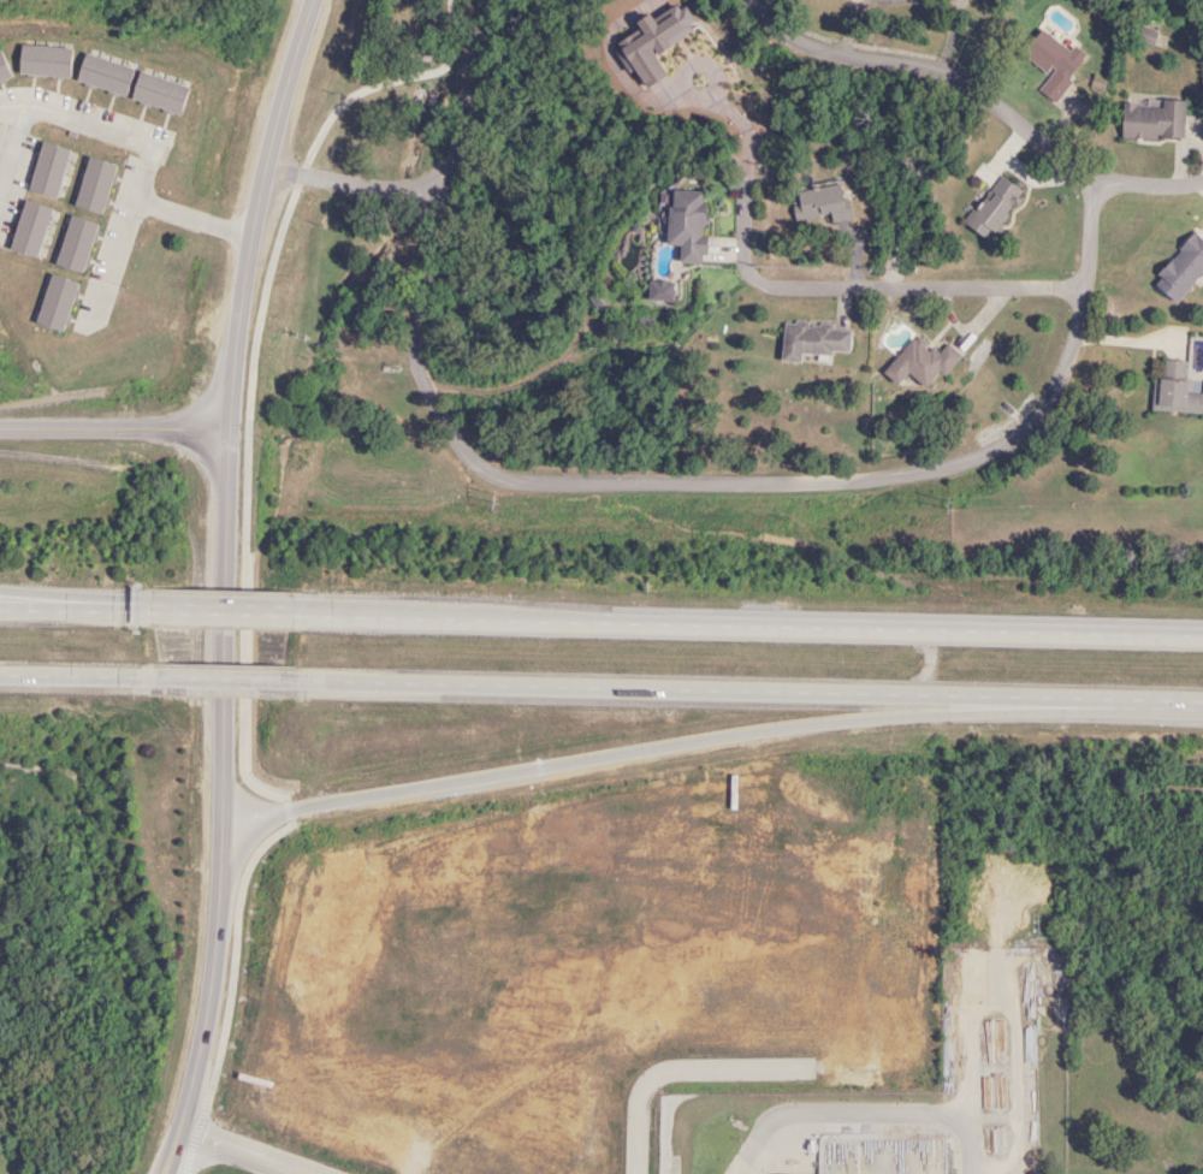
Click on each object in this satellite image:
building: (1053, 63)
road: (929, 73)
road: (454, 79)
building: (1154, 121)
road: (349, 178)
road: (1149, 185)
building: (822, 204)
building: (994, 208)
road: (254, 212)
road: (205, 221)
building: (687, 225)
building: (1181, 269)
road: (907, 289)
road: (159, 326)
building: (812, 340)
building: (37, 345)
building: (920, 363)
building: (1174, 391)
road: (115, 428)
road: (712, 488)
road: (47, 595)
road: (47, 601)
road: (128, 604)
road: (223, 607)
road: (742, 627)
road: (81, 677)
road: (221, 681)
road: (741, 698)
road: (630, 767)
road: (213, 804)
building: (497, 867)
building: (434, 891)
road: (675, 1067)
road: (846, 1128)
road: (257, 1150)

